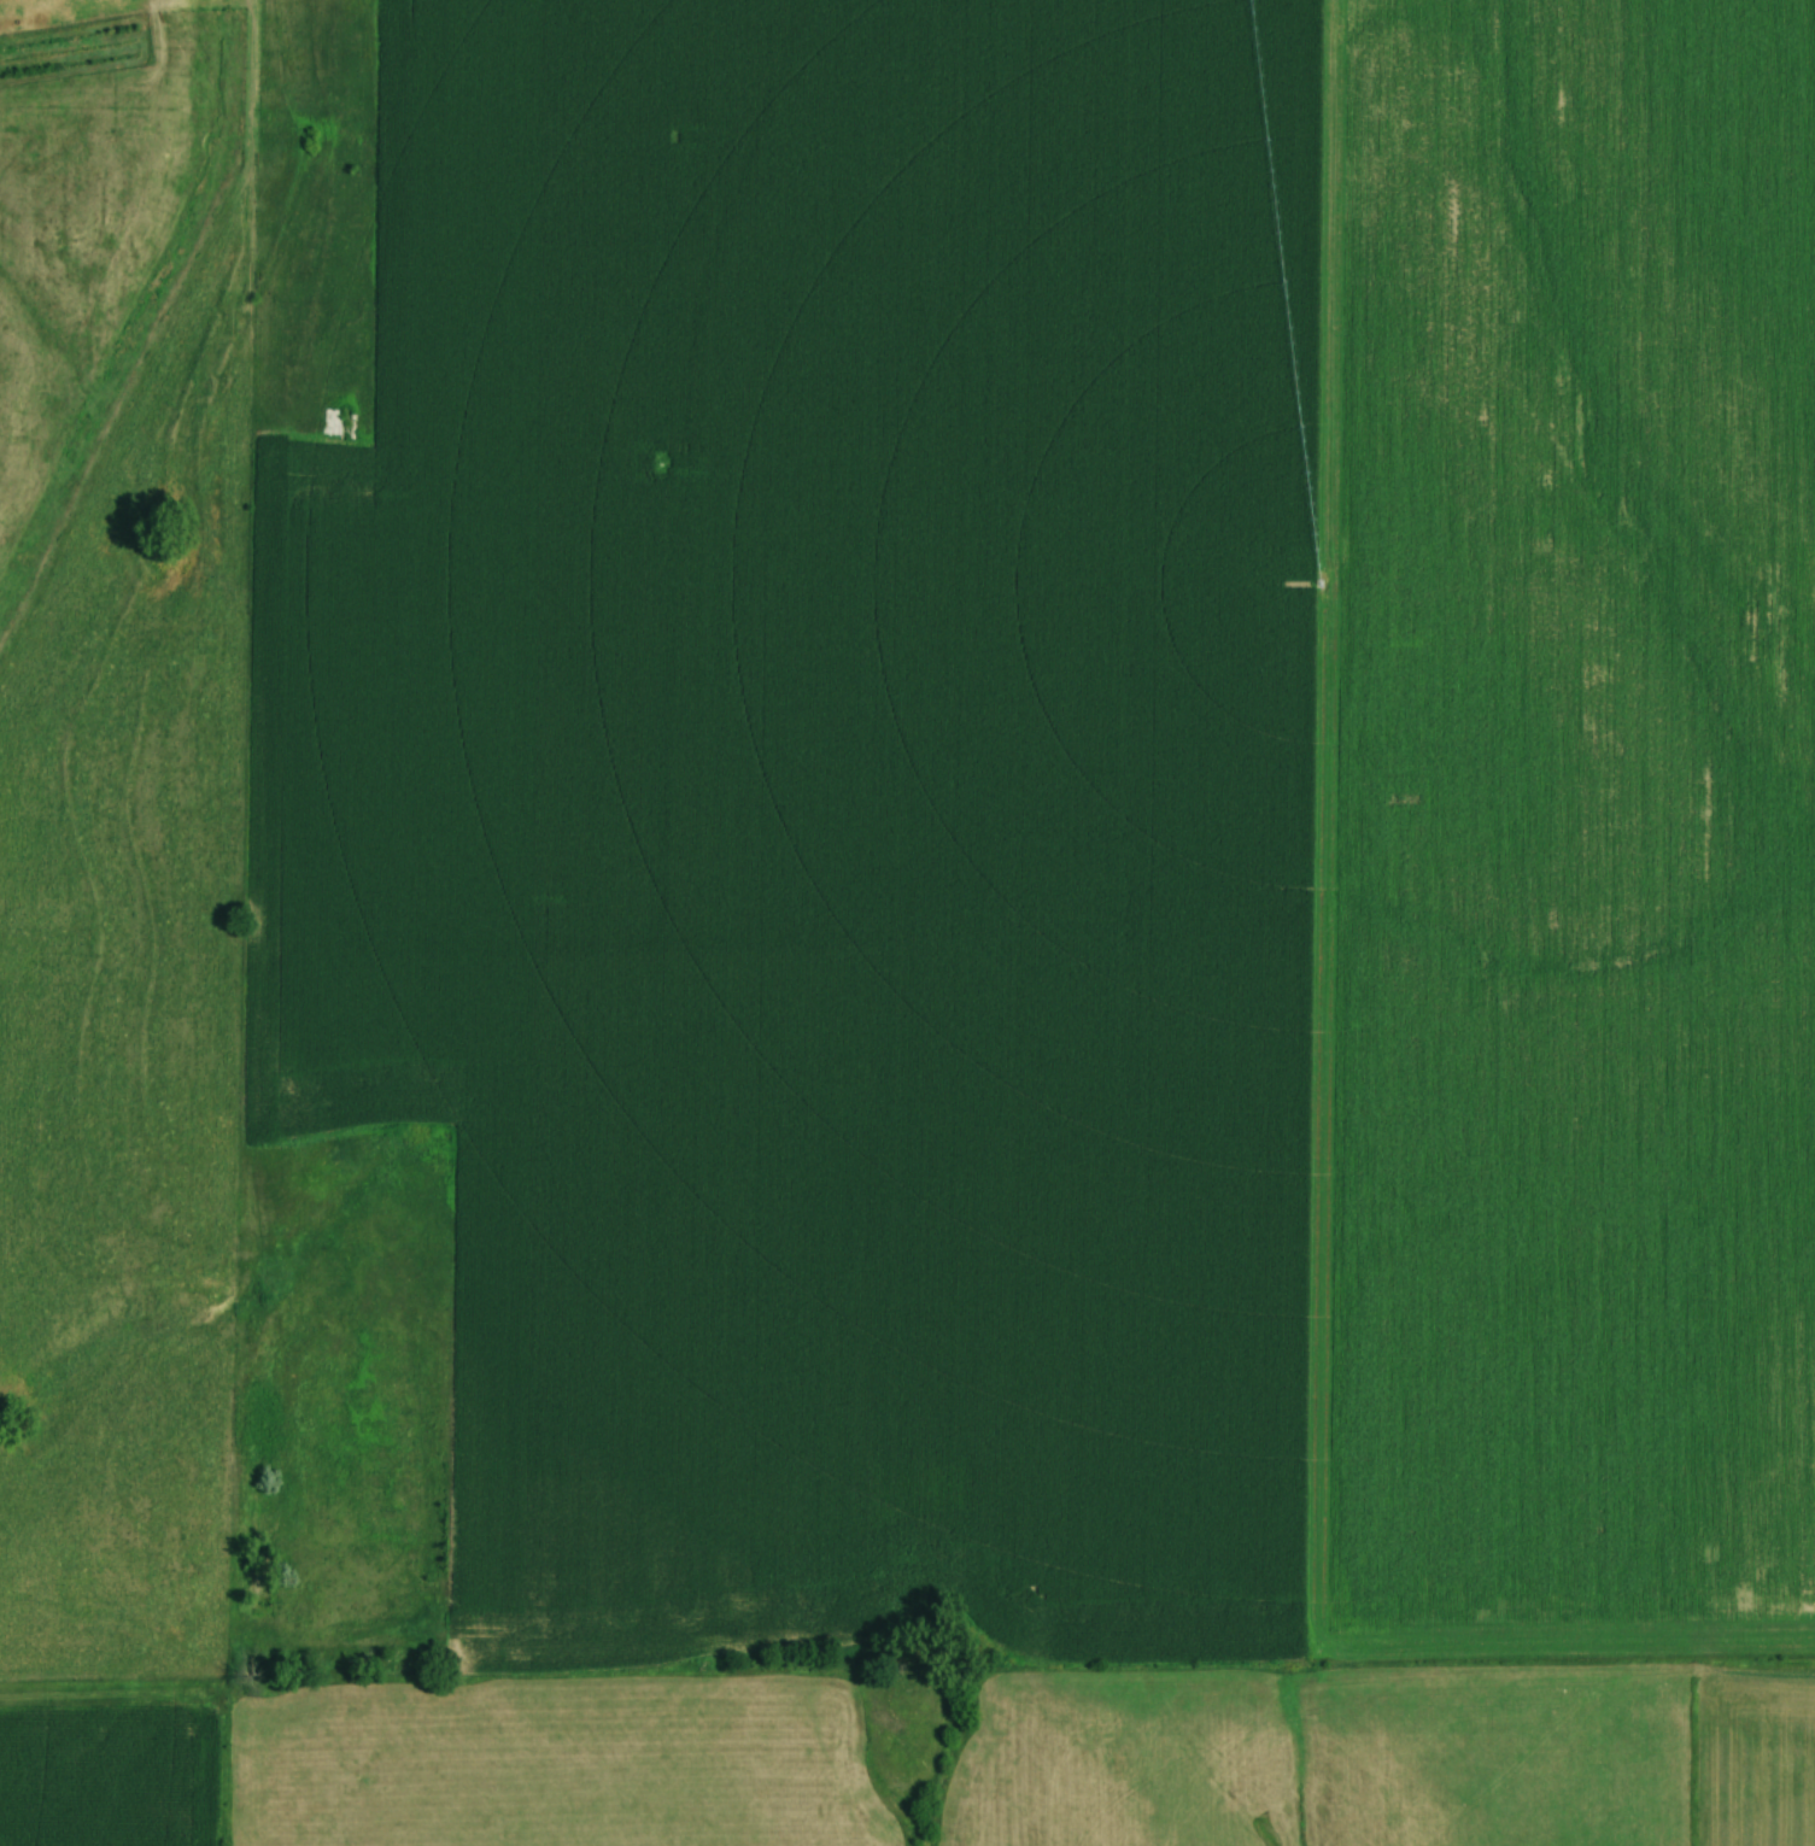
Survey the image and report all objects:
crop: (1568, 830)
crop: (1761, 1747)

